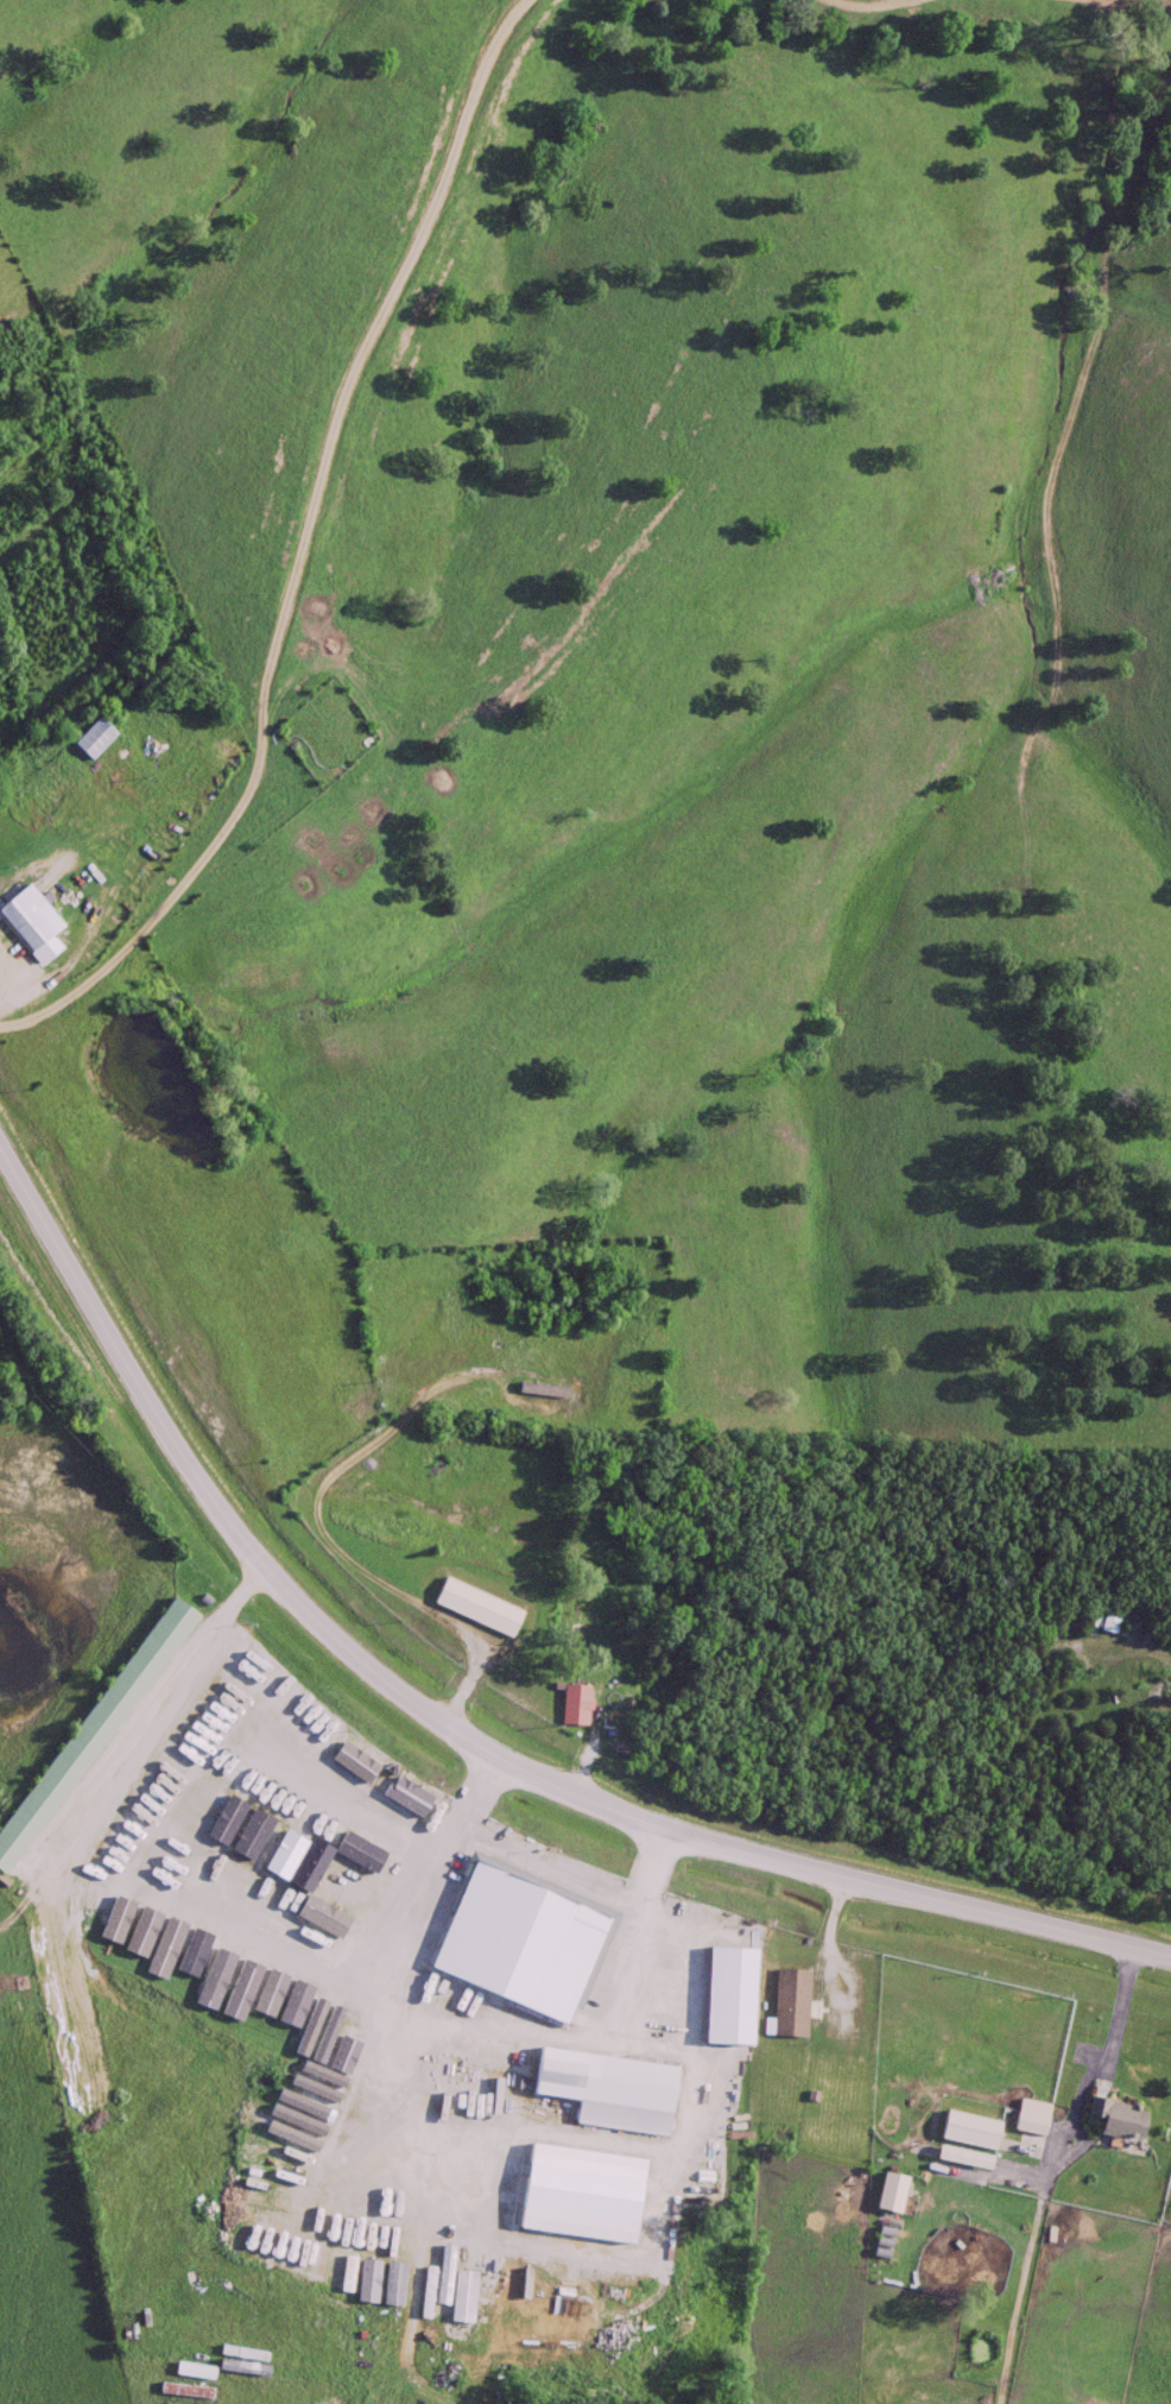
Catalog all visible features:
building: (94, 740)
building: (31, 926)
road: (6, 983)
building: (480, 1333)
building: (540, 1390)
road: (336, 1538)
building: (475, 1608)
building: (574, 1705)
road: (457, 1727)
building: (89, 1729)
road: (188, 1844)
building: (519, 1857)
building: (316, 1859)
road: (547, 1868)
building: (380, 1872)
building: (340, 1876)
building: (512, 1887)
building: (89, 1891)
building: (105, 1899)
building: (162, 1920)
building: (177, 1926)
building: (209, 1941)
building: (255, 1955)
building: (284, 1963)
building: (519, 1966)
building: (309, 1980)
building: (410, 1982)
building: (334, 1990)
building: (360, 2002)
building: (790, 2004)
building: (487, 2063)
road: (1097, 2063)
building: (602, 2087)
building: (1113, 2115)
building: (1028, 2125)
building: (968, 2132)
building: (962, 2159)
building: (891, 2194)
building: (323, 2253)
building: (344, 2257)
building: (384, 2264)

